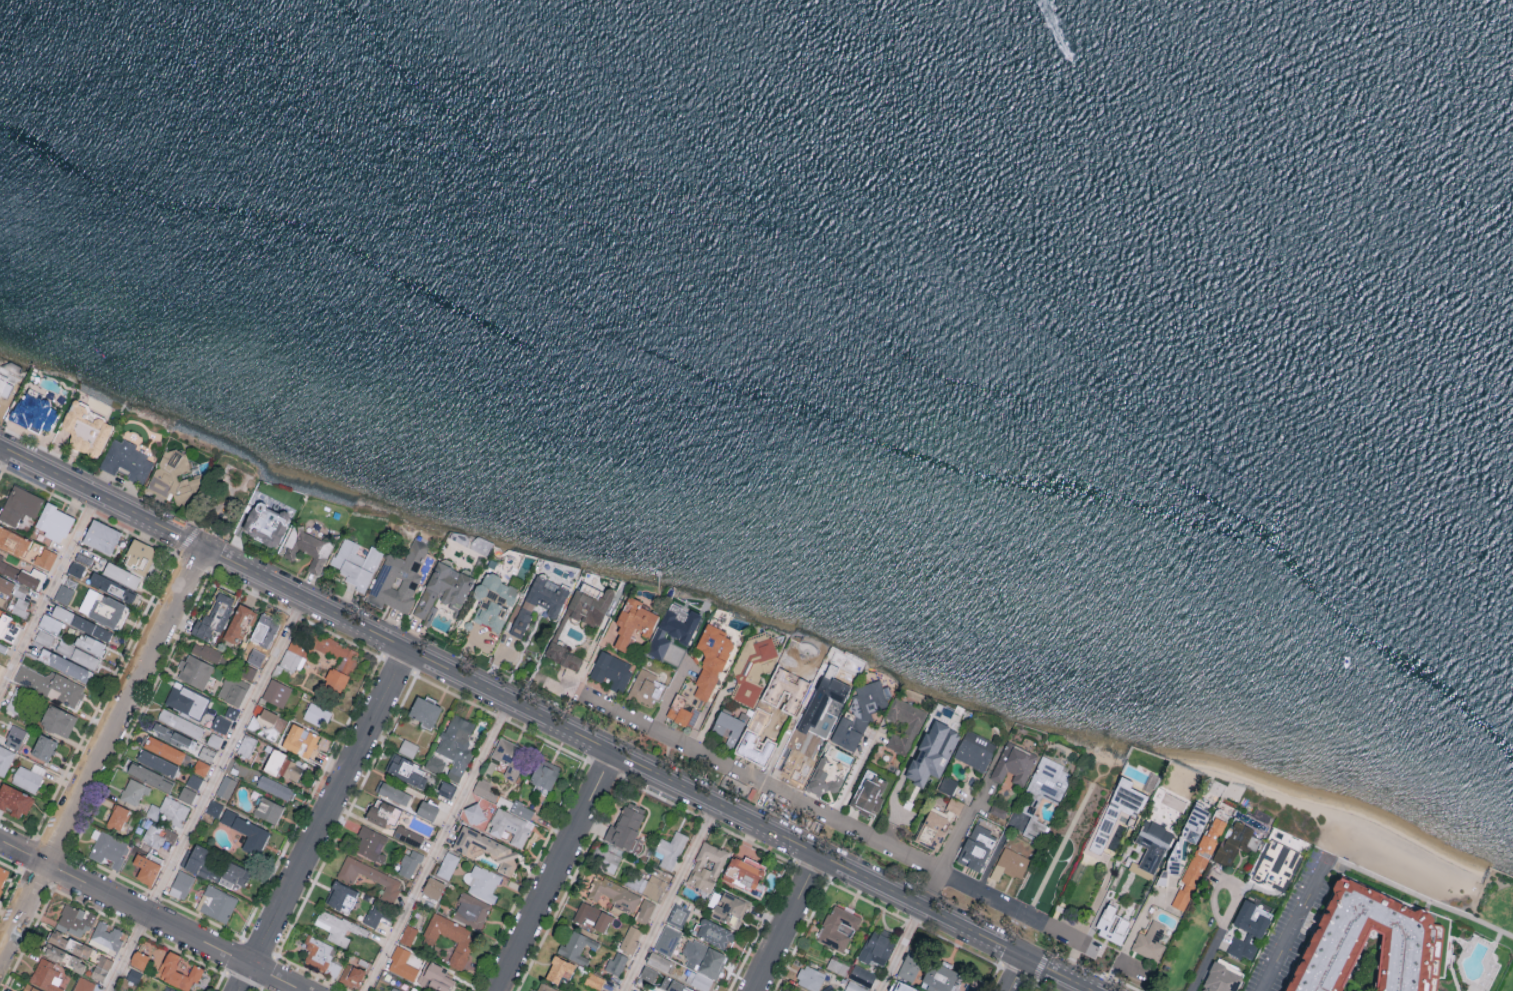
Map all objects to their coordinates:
building: (9, 394)
building: (35, 413)
building: (87, 431)
building: (126, 461)
building: (176, 476)
park: (223, 497)
building: (19, 505)
building: (54, 522)
building: (266, 524)
building: (101, 536)
building: (13, 541)
building: (306, 547)
building: (32, 551)
building: (139, 557)
building: (45, 558)
building: (356, 563)
building: (7, 568)
building: (75, 569)
building: (36, 574)
building: (121, 575)
building: (399, 577)
building: (27, 580)
building: (5, 585)
building: (443, 587)
building: (496, 587)
building: (112, 588)
road: (48, 592)
building: (63, 594)
building: (20, 601)
building: (539, 601)
building: (589, 605)
building: (0, 609)
building: (108, 611)
building: (489, 613)
building: (214, 615)
building: (240, 621)
building: (633, 621)
building: (50, 623)
building: (81, 623)
building: (8, 628)
building: (673, 628)
building: (263, 632)
building: (44, 637)
building: (90, 645)
building: (3, 647)
building: (206, 650)
building: (77, 654)
building: (344, 654)
building: (562, 654)
building: (711, 658)
building: (65, 665)
building: (250, 667)
building: (752, 667)
building: (195, 669)
building: (611, 670)
building: (335, 677)
building: (787, 683)
building: (50, 685)
building: (645, 687)
building: (833, 688)
building: (232, 689)
building: (276, 691)
building: (187, 700)
building: (15, 705)
building: (424, 710)
building: (683, 710)
building: (231, 711)
building: (317, 713)
building: (860, 713)
building: (267, 716)
road: (546, 718)
building: (58, 720)
building: (180, 722)
building: (220, 723)
building: (729, 726)
building: (912, 726)
building: (172, 735)
building: (15, 736)
building: (214, 739)
building: (300, 740)
building: (456, 743)
building: (246, 745)
building: (43, 746)
building: (754, 746)
building: (408, 747)
building: (163, 748)
building: (975, 750)
building: (933, 751)
road: (101, 752)
building: (206, 752)
road: (222, 753)
building: (508, 756)
building: (5, 759)
building: (157, 761)
building: (435, 763)
building: (1014, 764)
building: (284, 765)
building: (200, 766)
building: (407, 770)
building: (544, 773)
building: (149, 775)
building: (26, 778)
road: (852, 778)
building: (194, 780)
building: (1047, 782)
building: (948, 785)
building: (226, 786)
building: (274, 786)
building: (447, 788)
building: (134, 790)
building: (394, 792)
building: (186, 793)
building: (869, 794)
building: (501, 798)
building: (15, 799)
building: (955, 804)
building: (214, 807)
building: (269, 809)
building: (427, 809)
building: (169, 810)
building: (474, 812)
road: (817, 813)
building: (1116, 814)
building: (117, 816)
road: (322, 820)
building: (393, 820)
building: (1193, 823)
building: (510, 826)
building: (625, 826)
building: (1034, 828)
building: (932, 830)
building: (247, 831)
building: (157, 835)
road: (959, 836)
building: (1235, 840)
building: (371, 843)
building: (1153, 843)
road: (437, 845)
park: (1063, 846)
building: (107, 847)
building: (976, 847)
building: (486, 848)
building: (669, 849)
building: (1203, 851)
road: (996, 852)
building: (195, 857)
building: (606, 859)
building: (409, 862)
building: (447, 864)
building: (1010, 864)
building: (707, 866)
building: (146, 867)
building: (1141, 870)
road: (551, 871)
building: (744, 873)
building: (227, 874)
building: (369, 875)
building: (1162, 876)
park: (1422, 876)
building: (4, 878)
building: (482, 882)
building: (181, 884)
road: (1221, 885)
building: (653, 886)
building: (433, 887)
road: (931, 890)
building: (614, 894)
building: (341, 896)
road: (670, 896)
building: (1180, 899)
road: (1422, 900)
building: (217, 903)
building: (729, 908)
building: (471, 910)
building: (645, 910)
building: (374, 913)
building: (1265, 913)
road: (151, 914)
building: (678, 914)
building: (593, 915)
building: (74, 920)
road: (1294, 922)
road: (786, 923)
building: (1112, 924)
building: (333, 926)
building: (838, 927)
building: (1248, 929)
road: (1133, 930)
building: (715, 933)
building: (407, 934)
building: (105, 936)
building: (451, 937)
building: (630, 938)
building: (667, 939)
building: (1150, 940)
building: (69, 943)
building: (1368, 944)
building: (577, 946)
building: (877, 947)
road: (901, 948)
road: (125, 951)
building: (318, 951)
building: (64, 957)
road: (1205, 957)
building: (138, 958)
building: (703, 958)
building: (658, 961)
building: (616, 962)
building: (402, 964)
building: (910, 966)
building: (101, 967)
building: (559, 968)
building: (179, 971)
building: (649, 973)
road: (1015, 973)
building: (352, 974)
building: (46, 975)
building: (862, 975)
building: (435, 977)
building: (810, 977)
building: (939, 977)
building: (1221, 978)
building: (594, 980)
building: (702, 981)
building: (83, 984)
building: (547, 987)
building: (855, 987)
building: (903, 987)
building: (30, 988)
building: (685, 988)
building: (172, 989)
building: (395, 989)
building: (792, 990)

